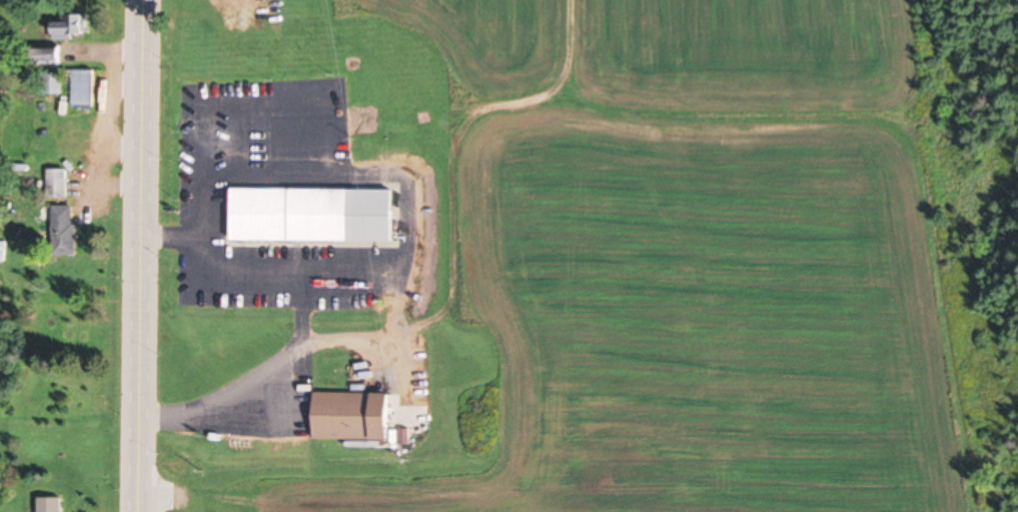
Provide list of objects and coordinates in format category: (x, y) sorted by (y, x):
building: (226, 14)
building: (74, 24)
building: (87, 86)
building: (60, 181)
road: (145, 185)
building: (295, 212)
building: (68, 229)
building: (358, 414)
road: (142, 441)
building: (55, 503)

